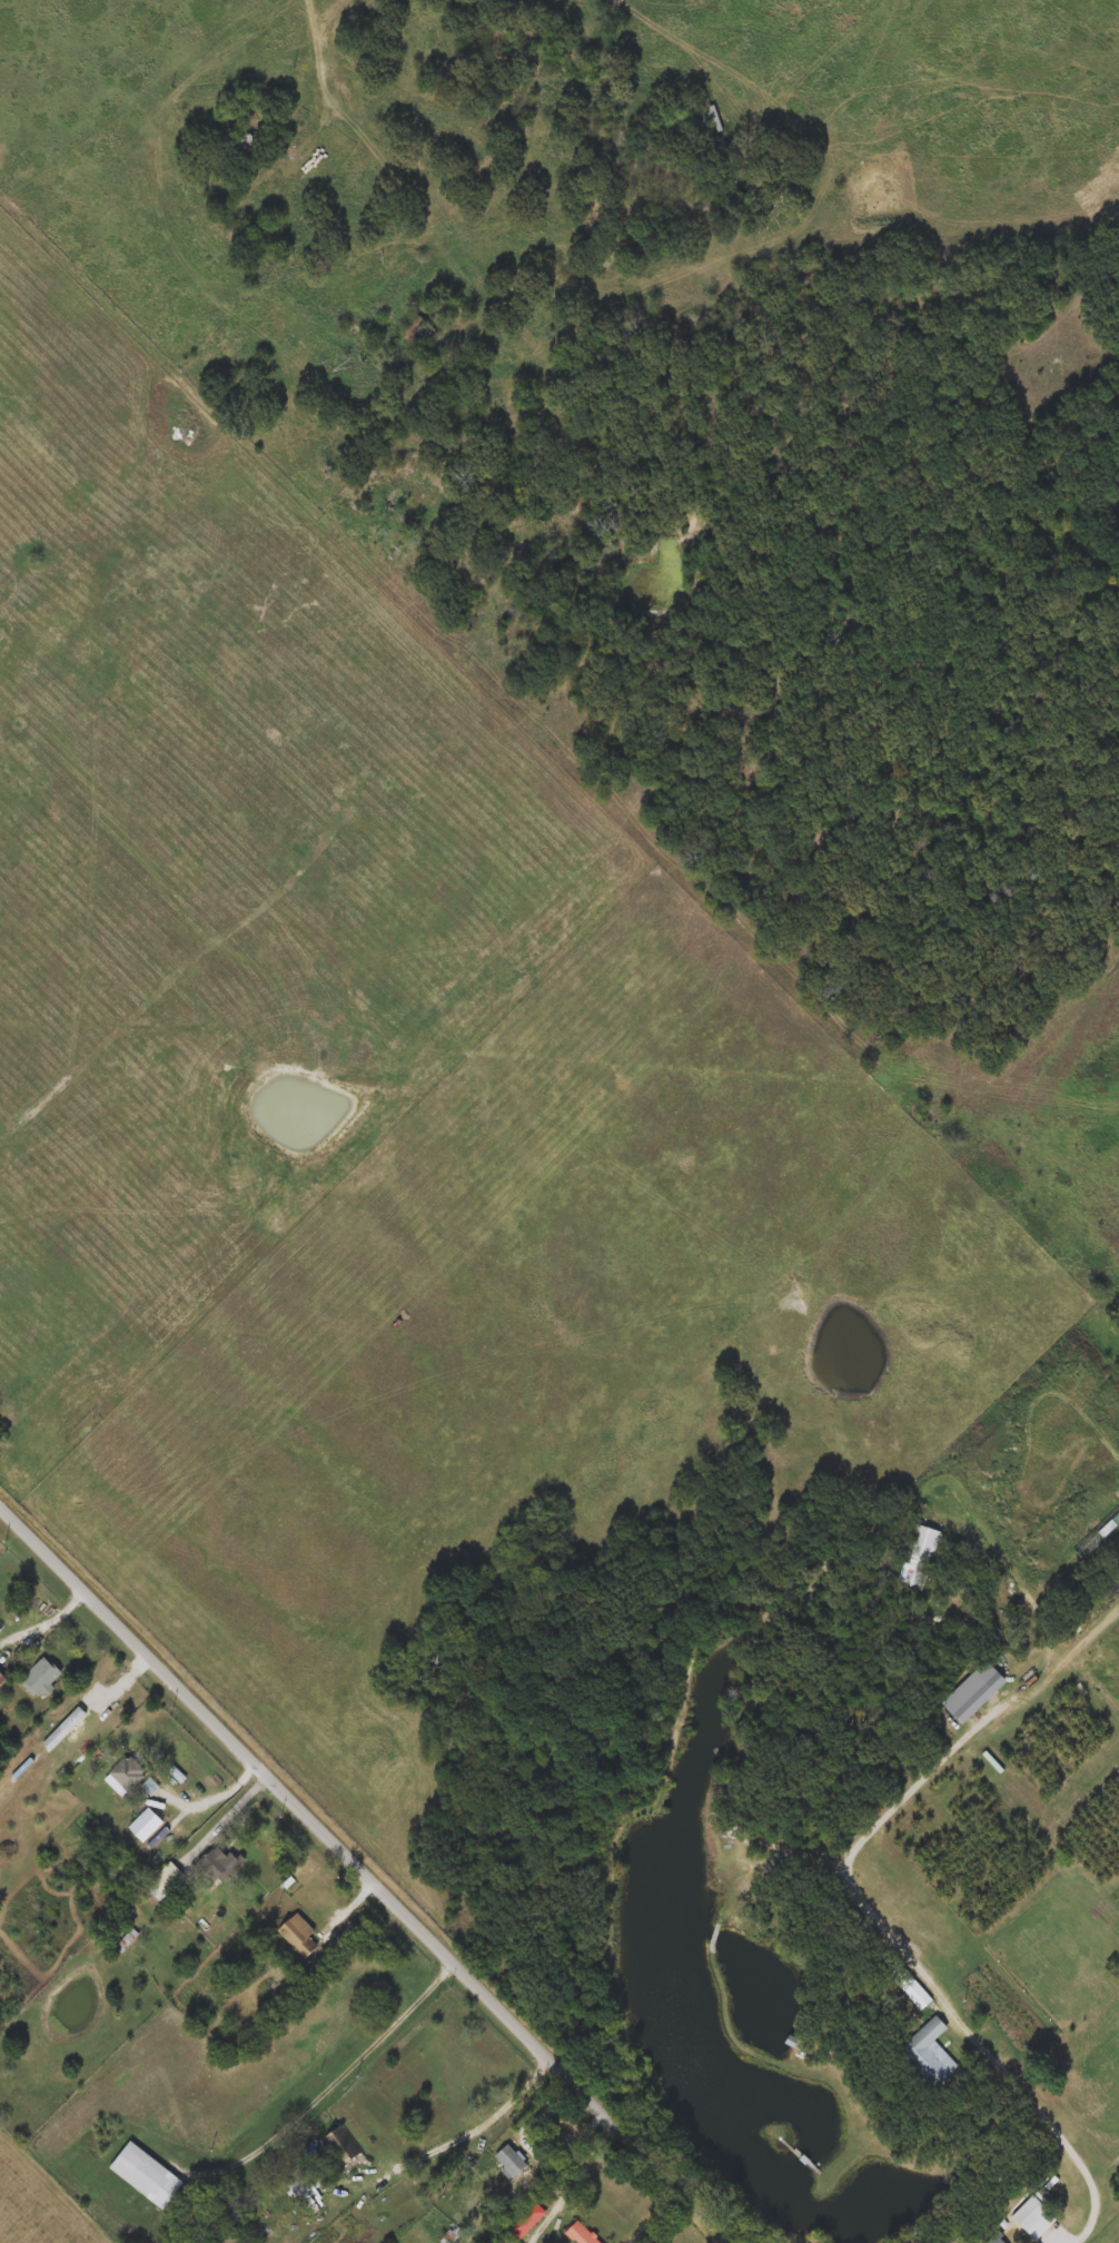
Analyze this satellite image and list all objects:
road: (325, 87)
building: (241, 142)
building: (921, 1557)
road: (39, 1622)
building: (2, 1678)
building: (43, 1678)
building: (971, 1697)
building: (125, 1776)
road: (220, 1790)
road: (231, 1812)
building: (146, 1825)
building: (218, 1864)
road: (366, 1874)
building: (164, 1881)
road: (354, 1903)
road: (868, 1905)
building: (297, 1936)
building: (911, 1987)
building: (930, 2054)
road: (339, 2082)
road: (484, 2126)
building: (339, 2148)
building: (509, 2161)
road: (581, 2161)
building: (146, 2175)
building: (303, 2185)
building: (1030, 2213)
building: (525, 2219)
building: (580, 2234)
building: (996, 2240)

